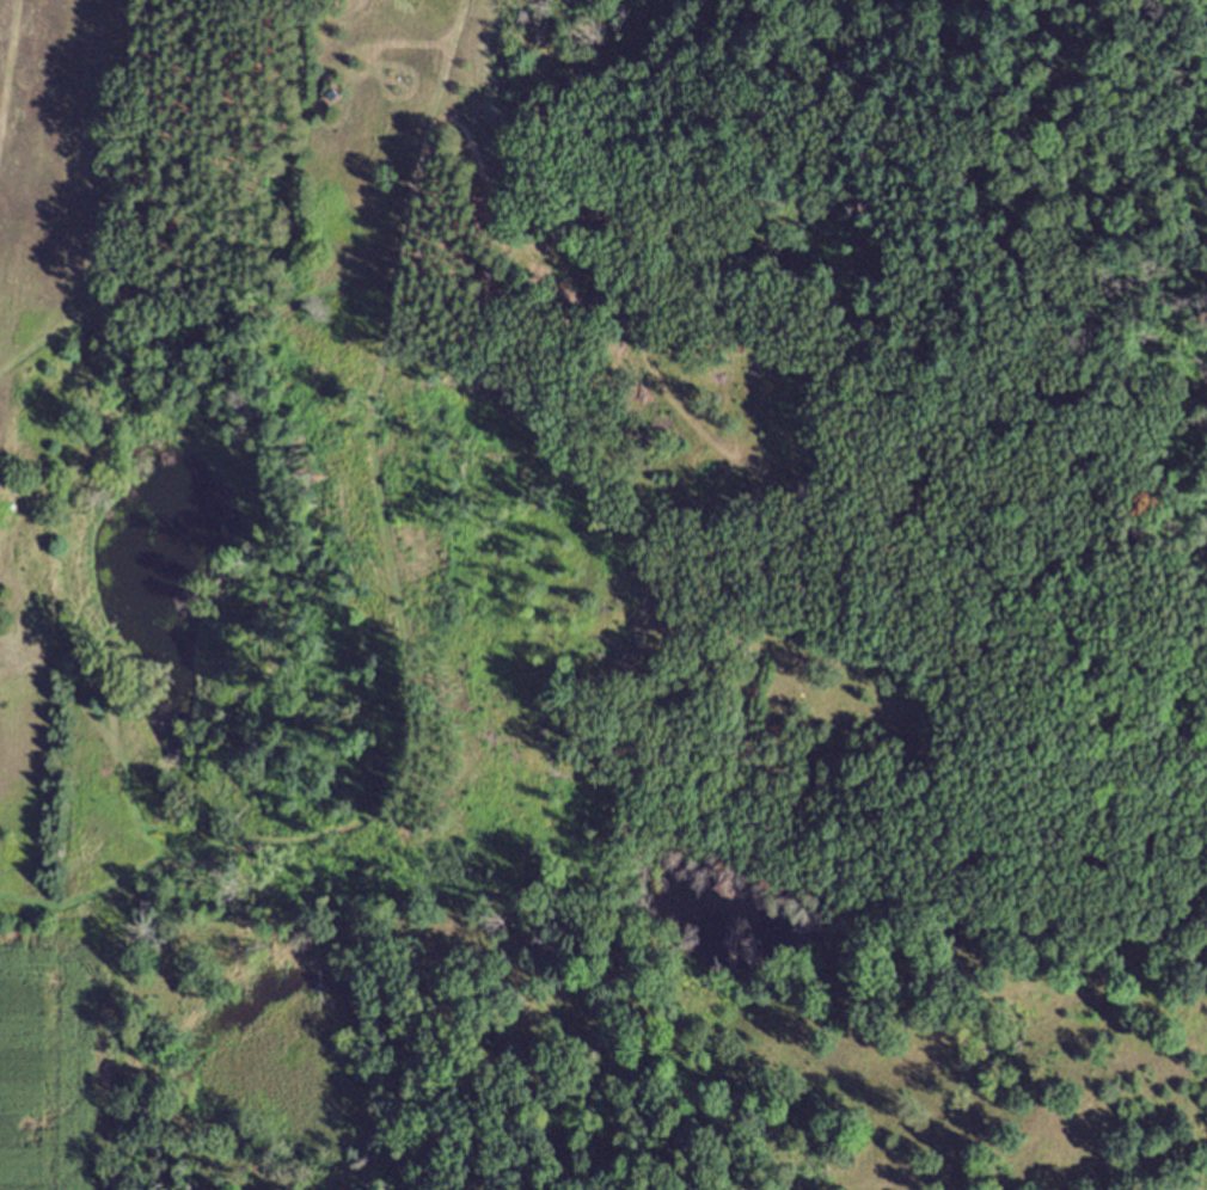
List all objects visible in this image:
airport runway: (7, 54)
airport: (49, 386)

